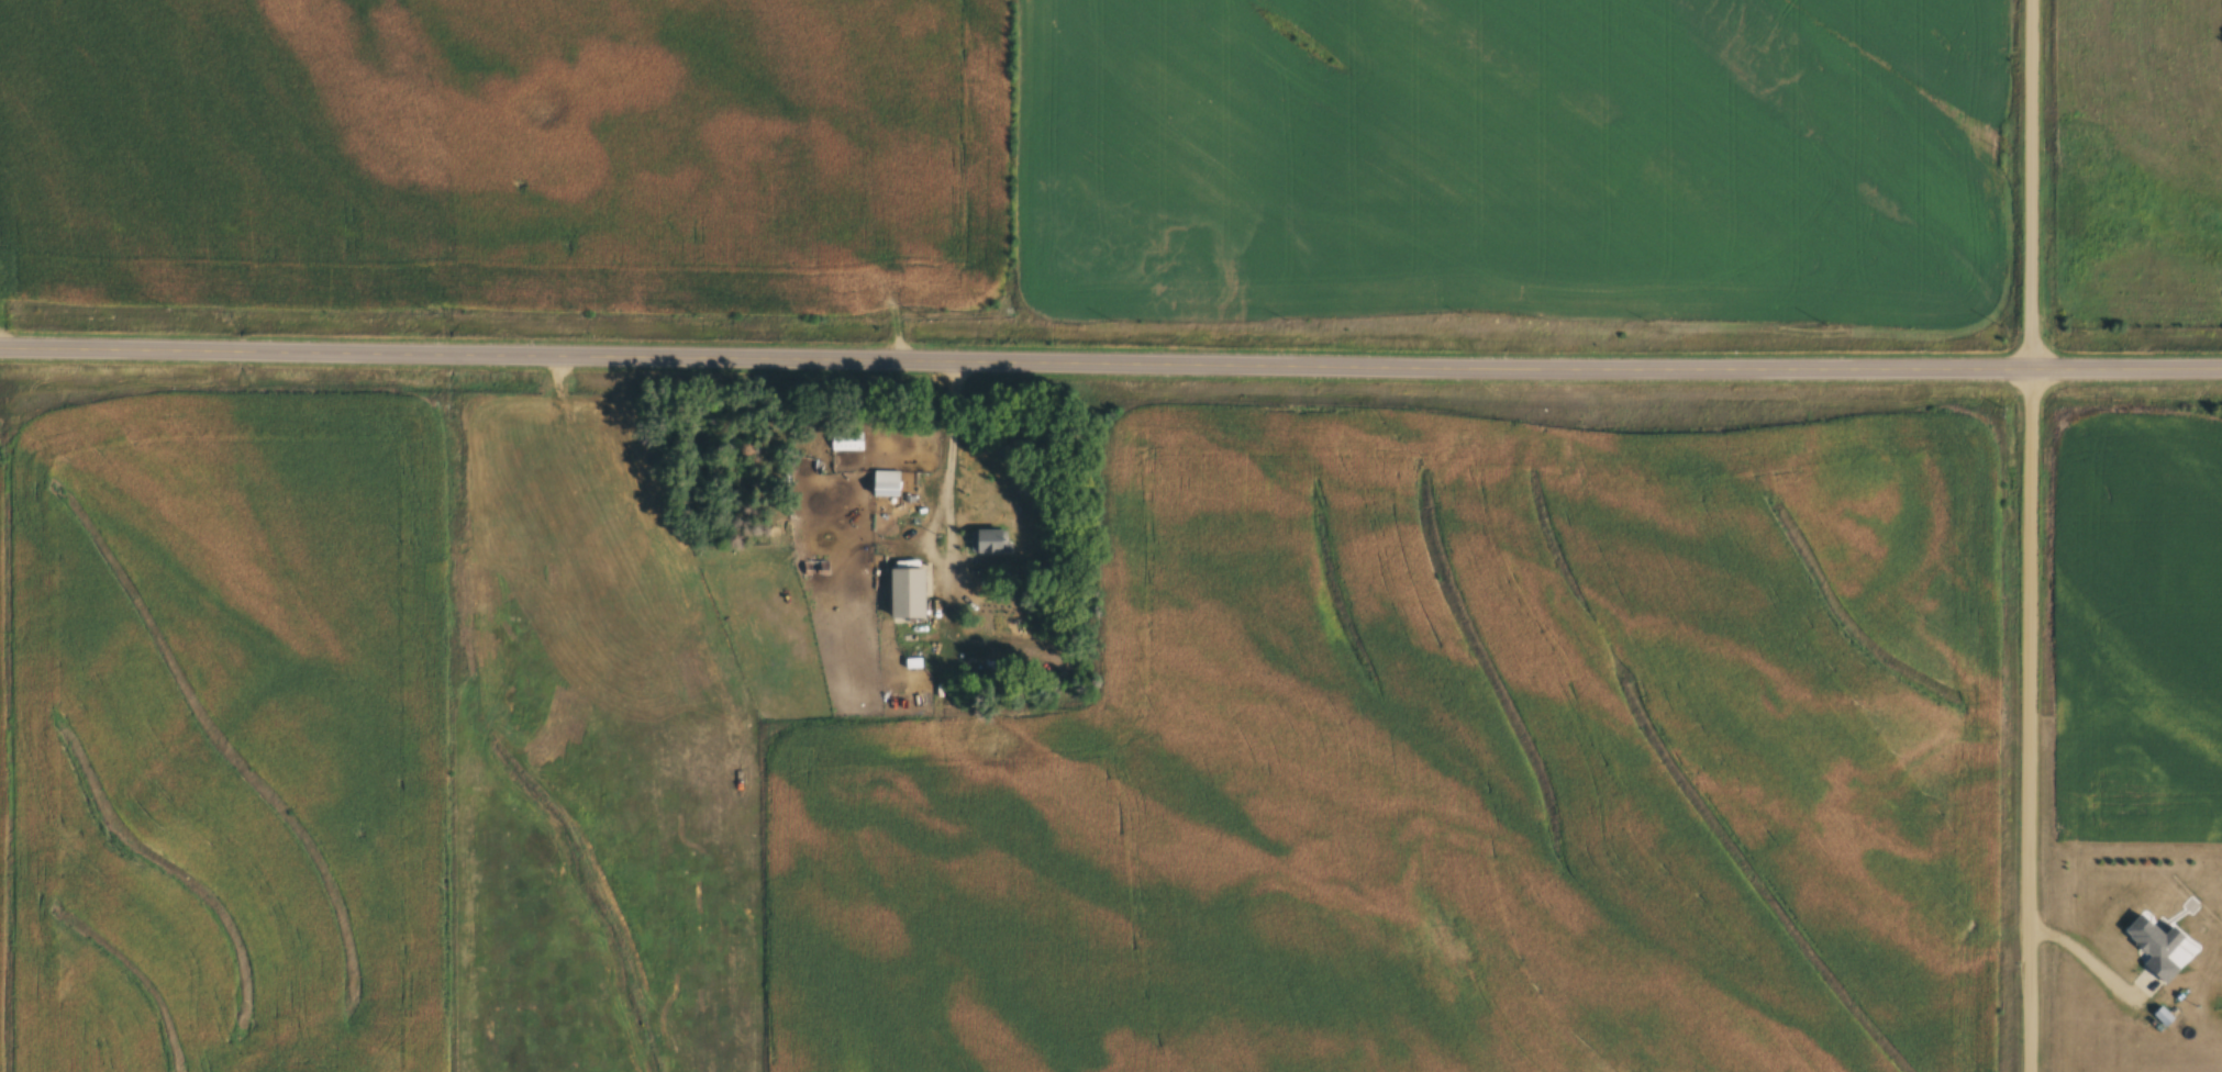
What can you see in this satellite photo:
crop: (2140, 165)
road: (1111, 359)
building: (846, 440)
building: (886, 483)
road: (945, 498)
road: (2029, 535)
building: (988, 541)
building: (816, 568)
building: (909, 594)

